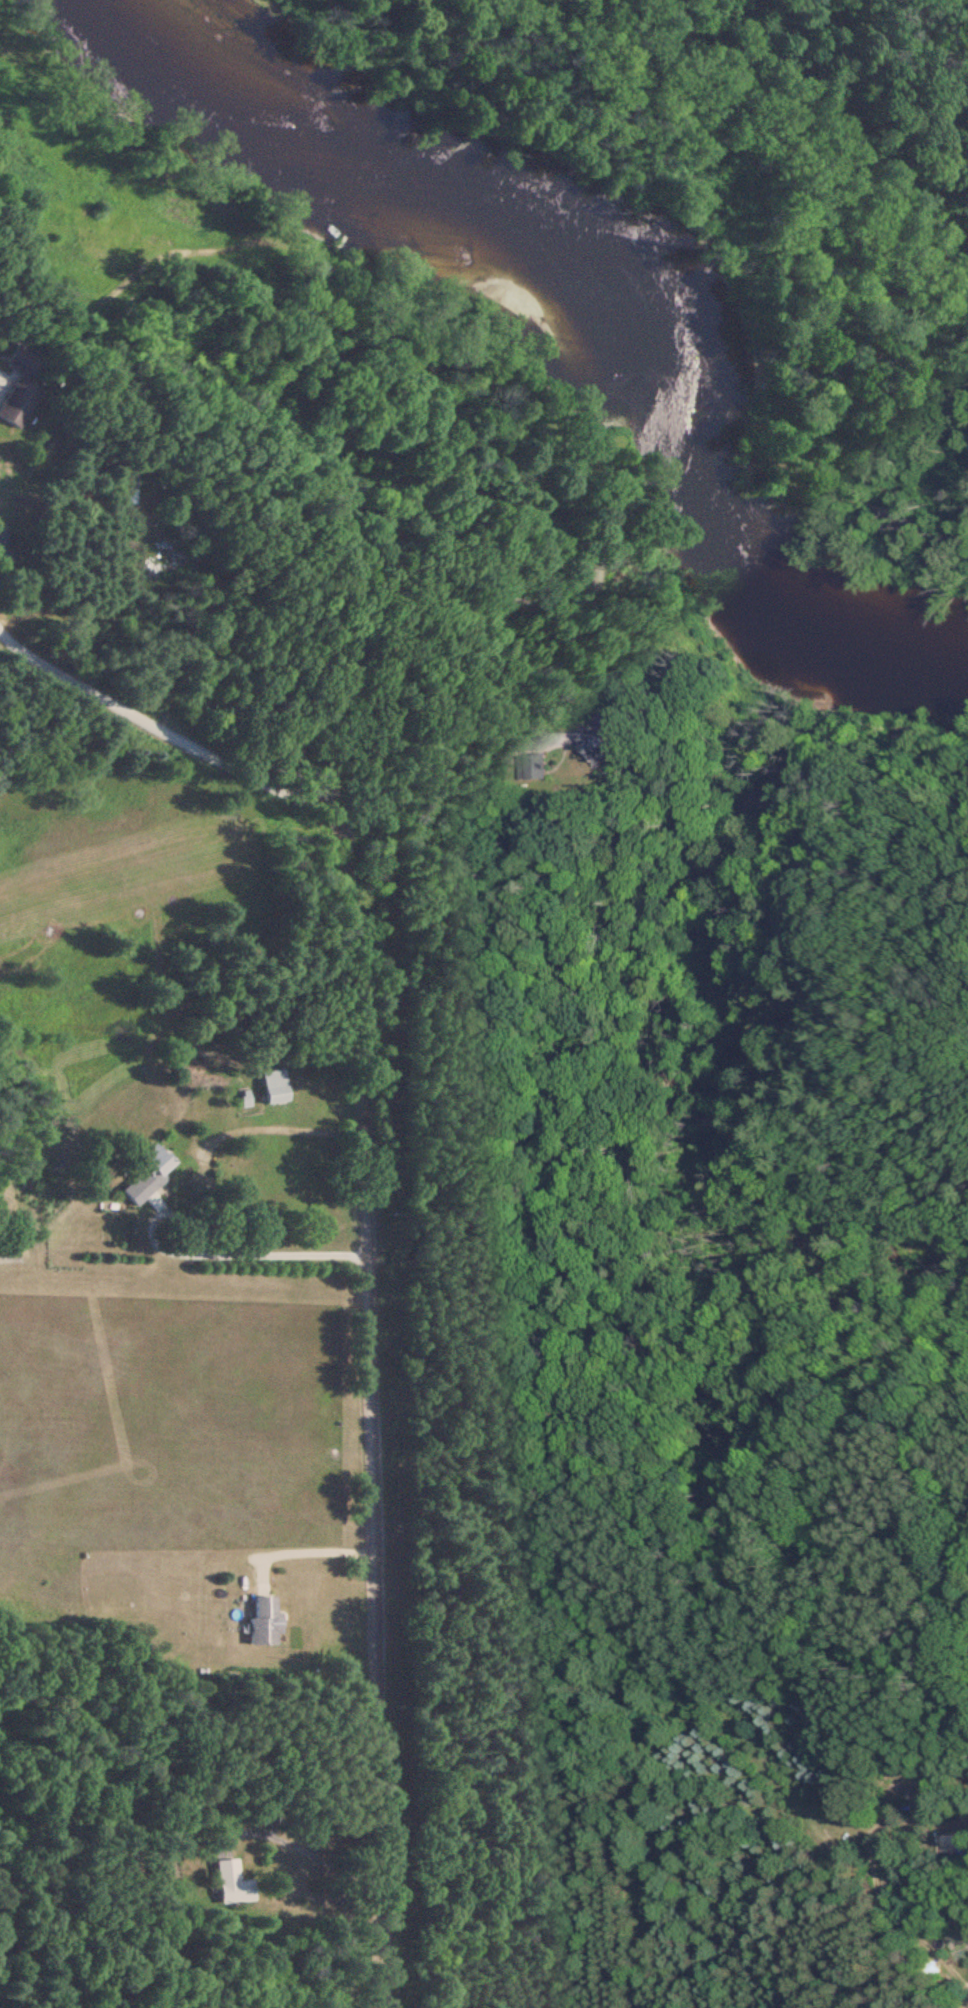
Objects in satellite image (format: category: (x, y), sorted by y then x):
river: (596, 301)
building: (17, 385)
road: (167, 727)
road: (634, 914)
building: (270, 1088)
road: (411, 1125)
building: (144, 1176)
road: (271, 1252)
road: (381, 1418)
road: (319, 1549)
building: (262, 1621)
building: (221, 1881)

